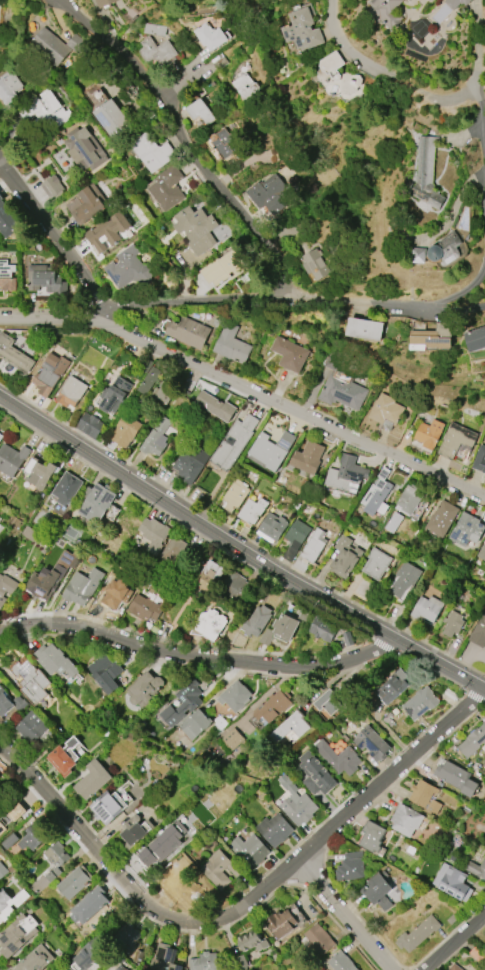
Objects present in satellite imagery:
building: (411, 0)
building: (419, 0)
building: (105, 2)
building: (455, 3)
building: (386, 12)
building: (303, 28)
building: (209, 36)
building: (51, 46)
road: (474, 47)
building: (160, 54)
road: (380, 75)
building: (338, 76)
building: (9, 87)
building: (247, 87)
building: (46, 110)
building: (201, 112)
building: (113, 118)
building: (226, 143)
road: (480, 146)
road: (192, 148)
building: (152, 151)
building: (88, 152)
building: (262, 156)
building: (427, 173)
building: (52, 186)
building: (168, 187)
building: (269, 195)
building: (86, 204)
building: (8, 220)
building: (195, 229)
building: (110, 230)
road: (51, 234)
building: (438, 251)
building: (316, 264)
building: (222, 267)
building: (128, 268)
building: (7, 276)
building: (46, 279)
road: (401, 303)
road: (190, 305)
road: (458, 310)
building: (365, 329)
building: (189, 332)
building: (431, 337)
building: (476, 339)
building: (232, 344)
building: (14, 354)
building: (290, 354)
building: (50, 374)
building: (150, 381)
building: (342, 383)
road: (246, 389)
building: (71, 392)
building: (116, 395)
building: (162, 395)
building: (216, 406)
building: (386, 411)
building: (90, 424)
building: (126, 430)
building: (0, 434)
building: (428, 435)
building: (1, 437)
building: (156, 437)
building: (457, 440)
building: (234, 442)
building: (272, 449)
building: (309, 457)
building: (12, 459)
building: (480, 459)
building: (190, 464)
building: (41, 475)
building: (347, 475)
building: (68, 488)
building: (236, 495)
building: (375, 497)
building: (410, 500)
building: (97, 502)
building: (253, 511)
building: (442, 518)
building: (272, 527)
building: (1, 528)
building: (468, 529)
building: (154, 532)
road: (239, 533)
building: (296, 538)
road: (240, 546)
building: (174, 551)
building: (311, 551)
building: (482, 552)
building: (345, 557)
building: (377, 563)
building: (210, 576)
building: (405, 580)
building: (43, 584)
building: (83, 586)
building: (236, 586)
building: (6, 589)
building: (117, 593)
building: (146, 608)
building: (428, 608)
building: (257, 621)
building: (209, 624)
building: (453, 624)
building: (287, 625)
building: (324, 628)
building: (479, 631)
road: (194, 656)
building: (56, 661)
building: (106, 673)
building: (31, 680)
building: (145, 688)
building: (393, 688)
building: (236, 696)
building: (329, 702)
building: (4, 703)
building: (421, 703)
building: (182, 705)
building: (274, 706)
building: (196, 725)
building: (31, 727)
building: (291, 728)
building: (473, 741)
building: (372, 743)
building: (339, 758)
building: (62, 761)
road: (274, 771)
building: (315, 775)
building: (456, 777)
building: (93, 779)
building: (425, 795)
building: (108, 805)
building: (299, 808)
building: (18, 810)
building: (406, 820)
building: (0, 830)
building: (275, 830)
building: (135, 831)
building: (35, 836)
building: (372, 836)
building: (9, 841)
building: (159, 846)
building: (249, 850)
building: (58, 854)
building: (352, 867)
building: (220, 869)
building: (477, 869)
building: (3, 871)
building: (450, 881)
building: (76, 882)
building: (379, 890)
building: (389, 900)
building: (10, 901)
building: (90, 905)
road: (244, 905)
road: (351, 915)
building: (282, 922)
road: (95, 929)
building: (18, 934)
building: (418, 934)
building: (130, 936)
building: (317, 940)
building: (252, 941)
road: (455, 941)
building: (93, 951)
building: (165, 958)
building: (36, 960)
building: (204, 962)
building: (341, 962)
building: (455, 967)

